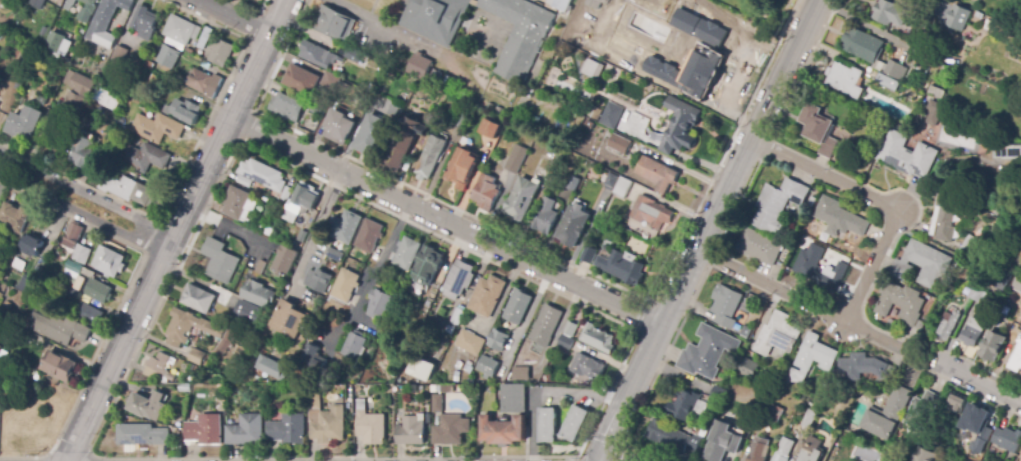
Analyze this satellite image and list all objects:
building: (1, 2)
building: (22, 2)
building: (595, 3)
building: (35, 4)
building: (562, 4)
building: (69, 5)
building: (90, 6)
building: (891, 12)
road: (232, 17)
building: (958, 17)
building: (436, 19)
building: (106, 21)
building: (144, 23)
building: (334, 23)
road: (865, 24)
building: (698, 27)
building: (41, 30)
building: (179, 30)
building: (519, 35)
parking lot: (392, 36)
road: (398, 37)
building: (205, 38)
building: (56, 41)
building: (863, 45)
building: (221, 53)
building: (119, 55)
building: (317, 55)
building: (356, 56)
building: (26, 57)
building: (66, 57)
building: (168, 58)
building: (420, 66)
building: (702, 68)
building: (593, 69)
building: (892, 70)
building: (436, 77)
building: (939, 79)
building: (301, 80)
building: (548, 80)
building: (846, 80)
building: (330, 81)
building: (887, 82)
building: (205, 83)
building: (17, 85)
building: (79, 85)
building: (341, 91)
building: (28, 92)
building: (532, 93)
building: (936, 93)
building: (109, 100)
building: (39, 102)
building: (287, 108)
building: (316, 108)
building: (184, 110)
building: (394, 111)
building: (595, 113)
building: (613, 113)
building: (934, 113)
building: (71, 114)
building: (429, 118)
building: (463, 121)
building: (530, 121)
building: (24, 124)
building: (157, 127)
building: (340, 127)
building: (679, 127)
building: (820, 129)
building: (489, 132)
building: (373, 136)
building: (407, 141)
building: (539, 141)
building: (620, 144)
building: (81, 150)
building: (1007, 152)
building: (907, 155)
building: (142, 157)
building: (431, 157)
building: (517, 159)
road: (740, 161)
building: (462, 167)
building: (263, 174)
building: (657, 174)
building: (244, 181)
building: (573, 183)
building: (618, 185)
road: (196, 186)
building: (129, 190)
building: (486, 191)
road: (86, 192)
building: (286, 194)
building: (522, 198)
road: (882, 200)
building: (303, 201)
building: (238, 203)
building: (778, 204)
building: (950, 210)
building: (651, 212)
road: (82, 214)
building: (15, 217)
building: (545, 217)
building: (839, 218)
road: (446, 220)
building: (273, 222)
building: (574, 226)
building: (349, 227)
building: (967, 227)
road: (318, 232)
building: (370, 235)
building: (301, 237)
building: (74, 242)
building: (31, 246)
building: (760, 246)
building: (969, 247)
building: (407, 253)
building: (589, 254)
building: (56, 255)
building: (336, 255)
building: (220, 260)
building: (253, 260)
building: (286, 260)
road: (384, 260)
building: (108, 262)
building: (961, 263)
building: (18, 264)
building: (922, 264)
building: (428, 265)
building: (74, 267)
building: (622, 267)
building: (266, 268)
building: (816, 268)
building: (37, 271)
building: (318, 279)
building: (440, 279)
building: (458, 280)
building: (1000, 282)
building: (1016, 284)
building: (27, 285)
building: (346, 285)
building: (277, 286)
building: (98, 291)
building: (68, 292)
building: (258, 294)
building: (487, 296)
building: (977, 296)
building: (198, 299)
road: (799, 299)
building: (996, 300)
building: (900, 301)
building: (380, 304)
building: (726, 306)
building: (519, 307)
building: (247, 313)
building: (88, 314)
building: (457, 316)
building: (289, 319)
road: (528, 321)
building: (548, 321)
building: (949, 324)
building: (919, 326)
building: (189, 327)
road: (563, 327)
building: (57, 328)
building: (570, 329)
building: (972, 332)
building: (913, 334)
building: (777, 335)
building: (229, 336)
building: (498, 339)
building: (597, 339)
building: (38, 340)
building: (223, 342)
building: (470, 343)
building: (564, 345)
road: (50, 346)
building: (354, 346)
building: (992, 346)
building: (707, 352)
building: (815, 354)
building: (197, 357)
building: (452, 359)
building: (313, 360)
building: (1016, 360)
road: (91, 365)
building: (458, 365)
building: (59, 366)
building: (488, 366)
building: (271, 367)
building: (587, 367)
building: (865, 367)
building: (417, 368)
building: (468, 369)
building: (749, 369)
building: (156, 370)
building: (521, 373)
building: (474, 376)
building: (793, 376)
building: (456, 377)
building: (20, 378)
road: (957, 384)
road: (975, 384)
building: (183, 387)
building: (447, 389)
building: (807, 390)
road: (545, 391)
road: (627, 391)
building: (513, 398)
building: (314, 399)
building: (261, 401)
building: (437, 403)
building: (957, 403)
building: (147, 405)
building: (683, 405)
building: (802, 405)
building: (249, 408)
building: (921, 410)
building: (774, 414)
building: (887, 414)
road: (86, 417)
building: (809, 419)
building: (575, 423)
building: (786, 425)
building: (329, 426)
building: (370, 428)
building: (976, 428)
building: (451, 429)
building: (205, 430)
building: (287, 430)
building: (503, 430)
building: (245, 431)
building: (410, 431)
building: (701, 432)
building: (143, 436)
building: (672, 436)
building: (1007, 439)
road: (611, 442)
building: (722, 442)
road: (580, 447)
building: (775, 447)
building: (759, 450)
building: (783, 450)
building: (812, 450)
road: (641, 453)
building: (924, 455)
building: (1020, 457)
road: (568, 459)

